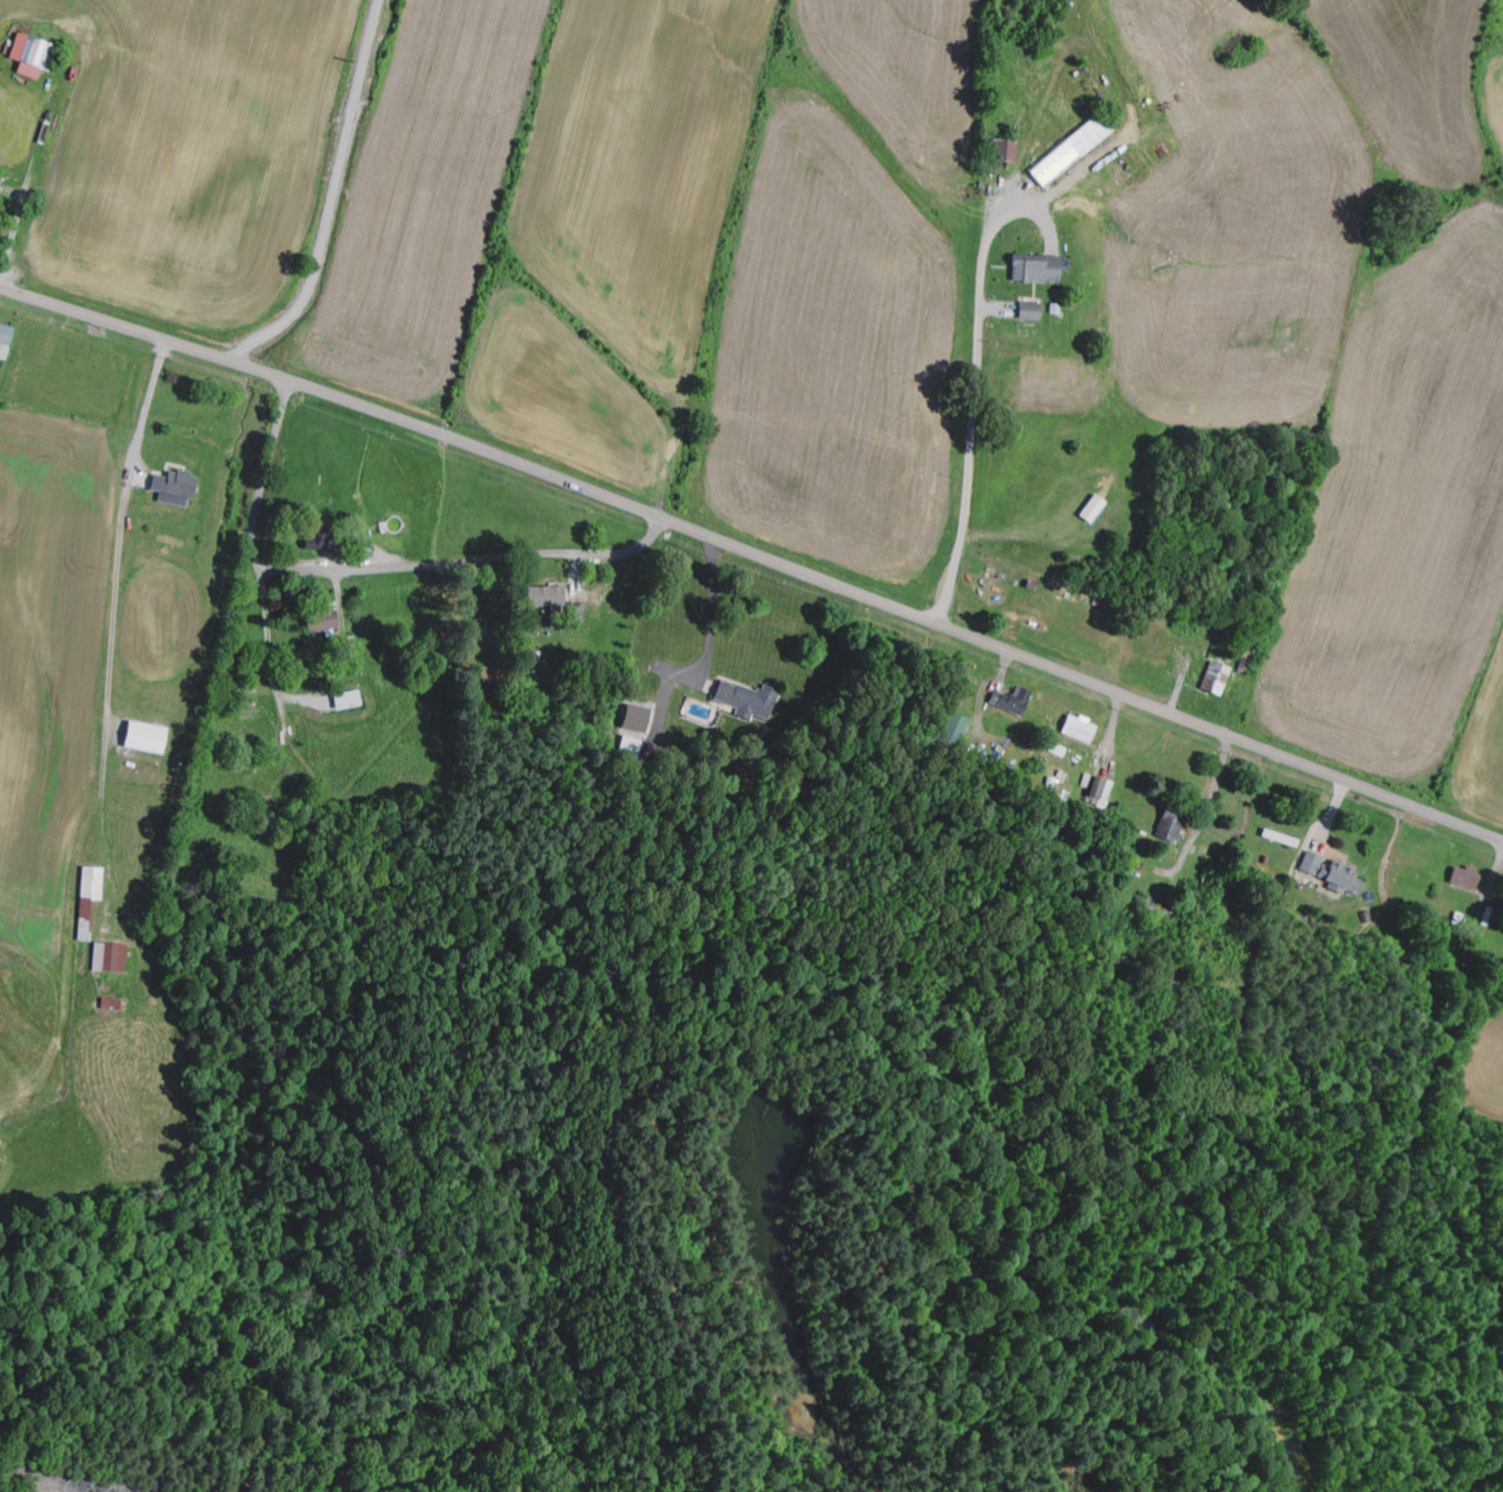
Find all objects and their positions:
building: (36, 56)
building: (1008, 151)
building: (1073, 153)
road: (334, 196)
building: (1041, 270)
building: (1033, 312)
road: (146, 334)
building: (7, 342)
building: (180, 483)
road: (375, 567)
building: (547, 597)
road: (898, 609)
road: (228, 654)
building: (1219, 678)
building: (737, 695)
building: (1015, 701)
building: (1082, 729)
building: (150, 737)
building: (1173, 827)
building: (1336, 874)
building: (1469, 878)
building: (92, 899)
building: (113, 958)
building: (114, 1004)

